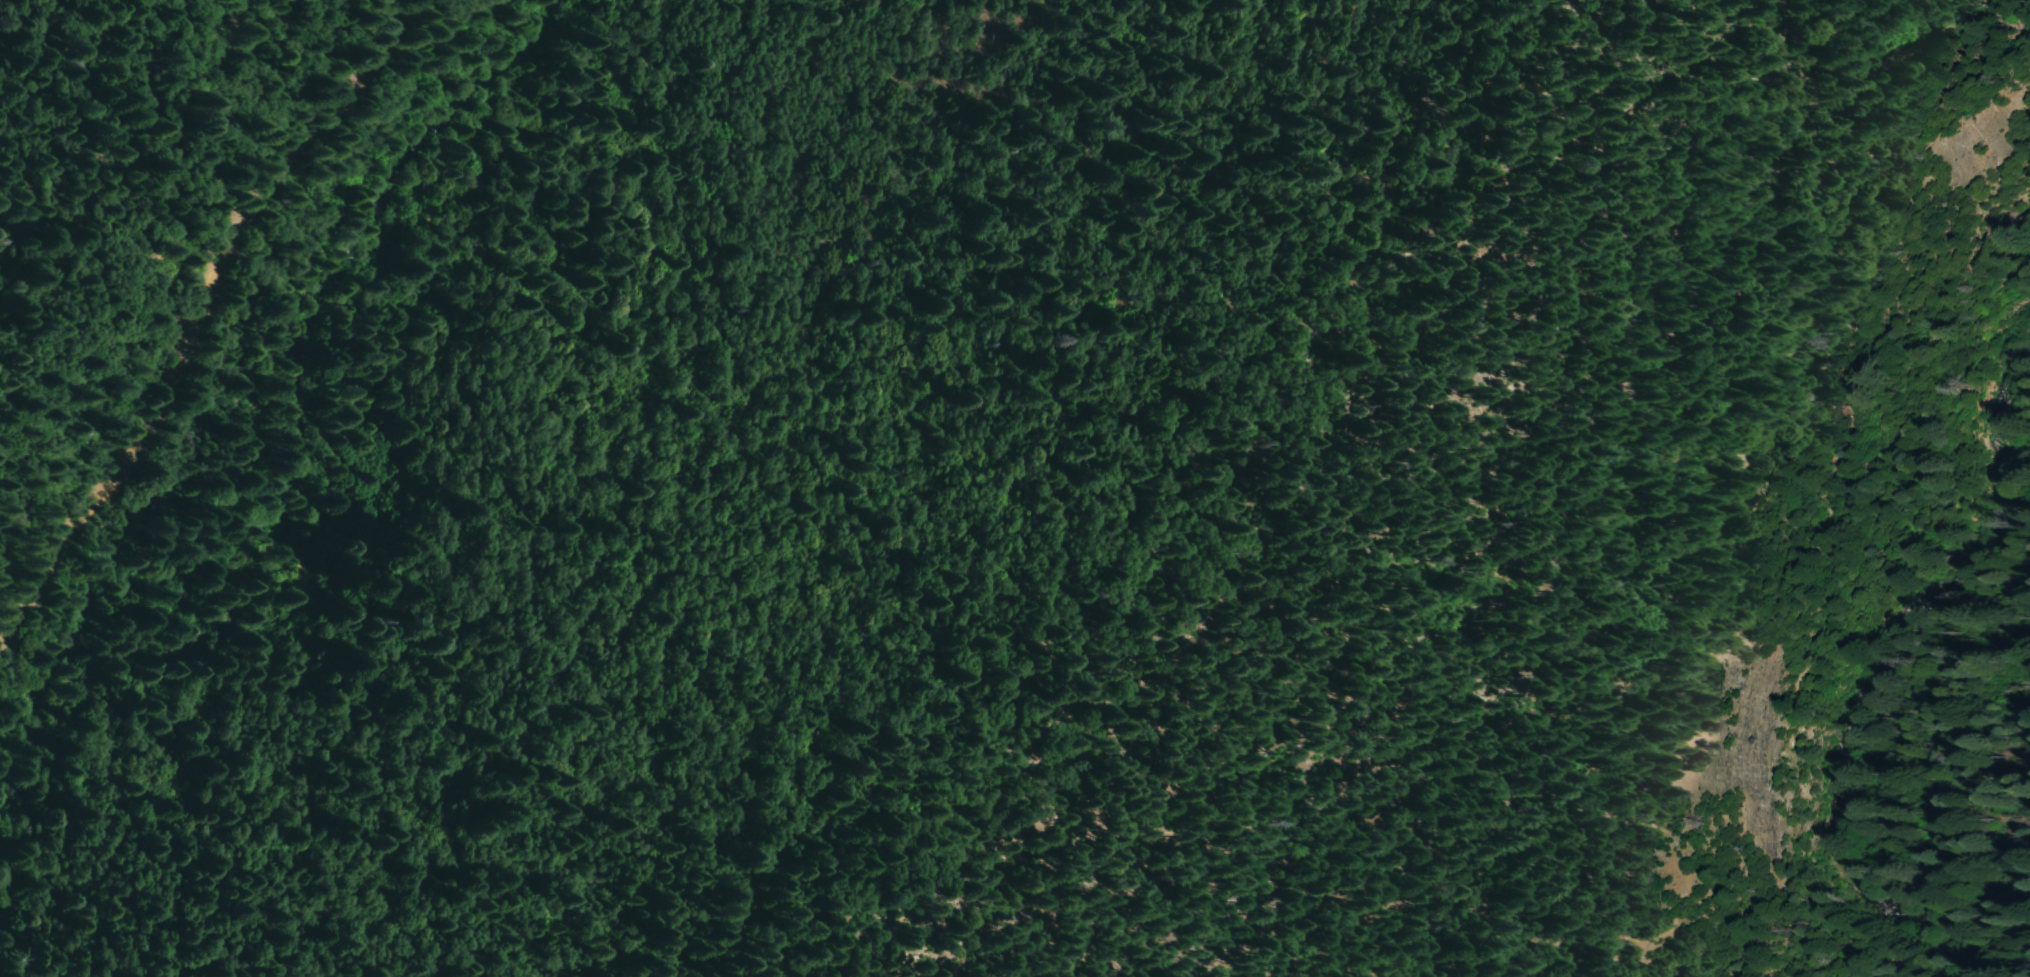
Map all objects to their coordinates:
road: (184, 295)

